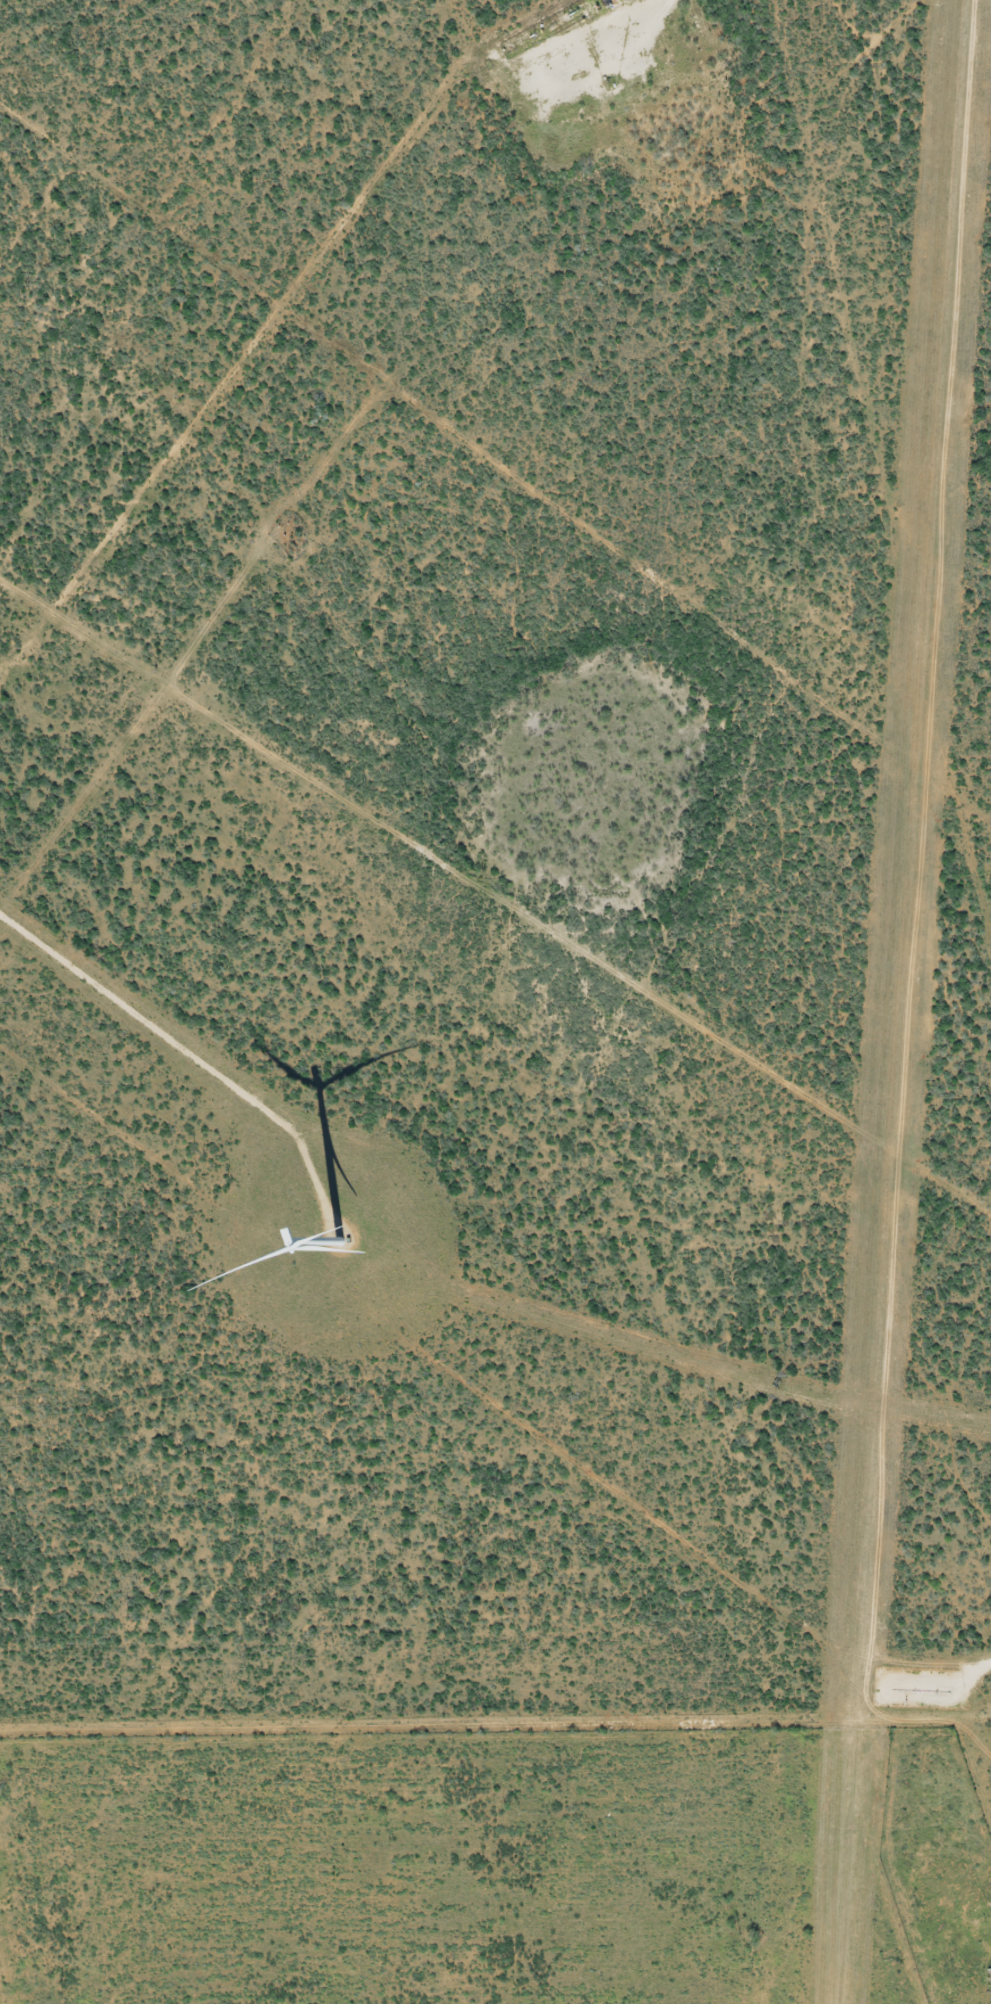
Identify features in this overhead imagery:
wind turbine: (334, 1254)

